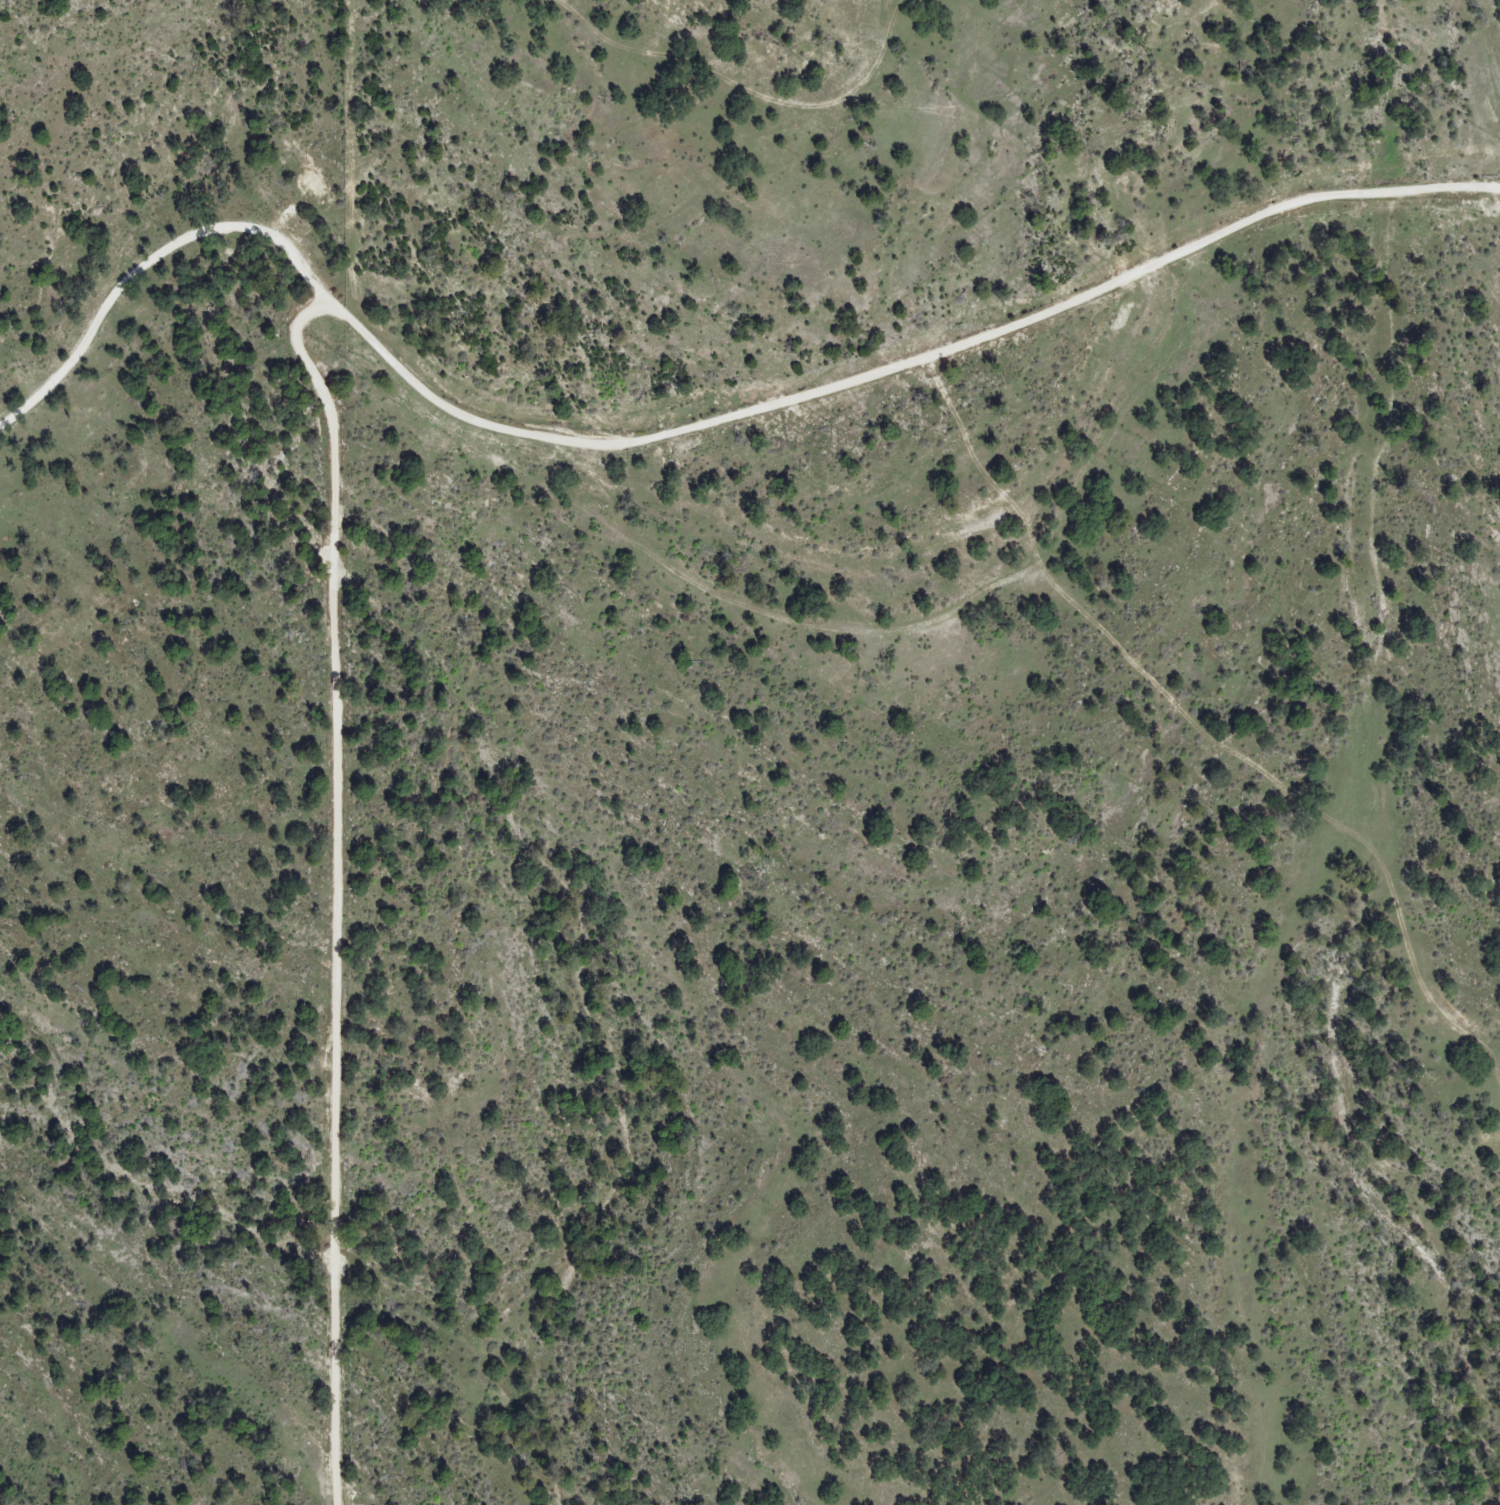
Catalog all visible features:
road: (686, 398)
road: (957, 609)
road: (335, 887)

